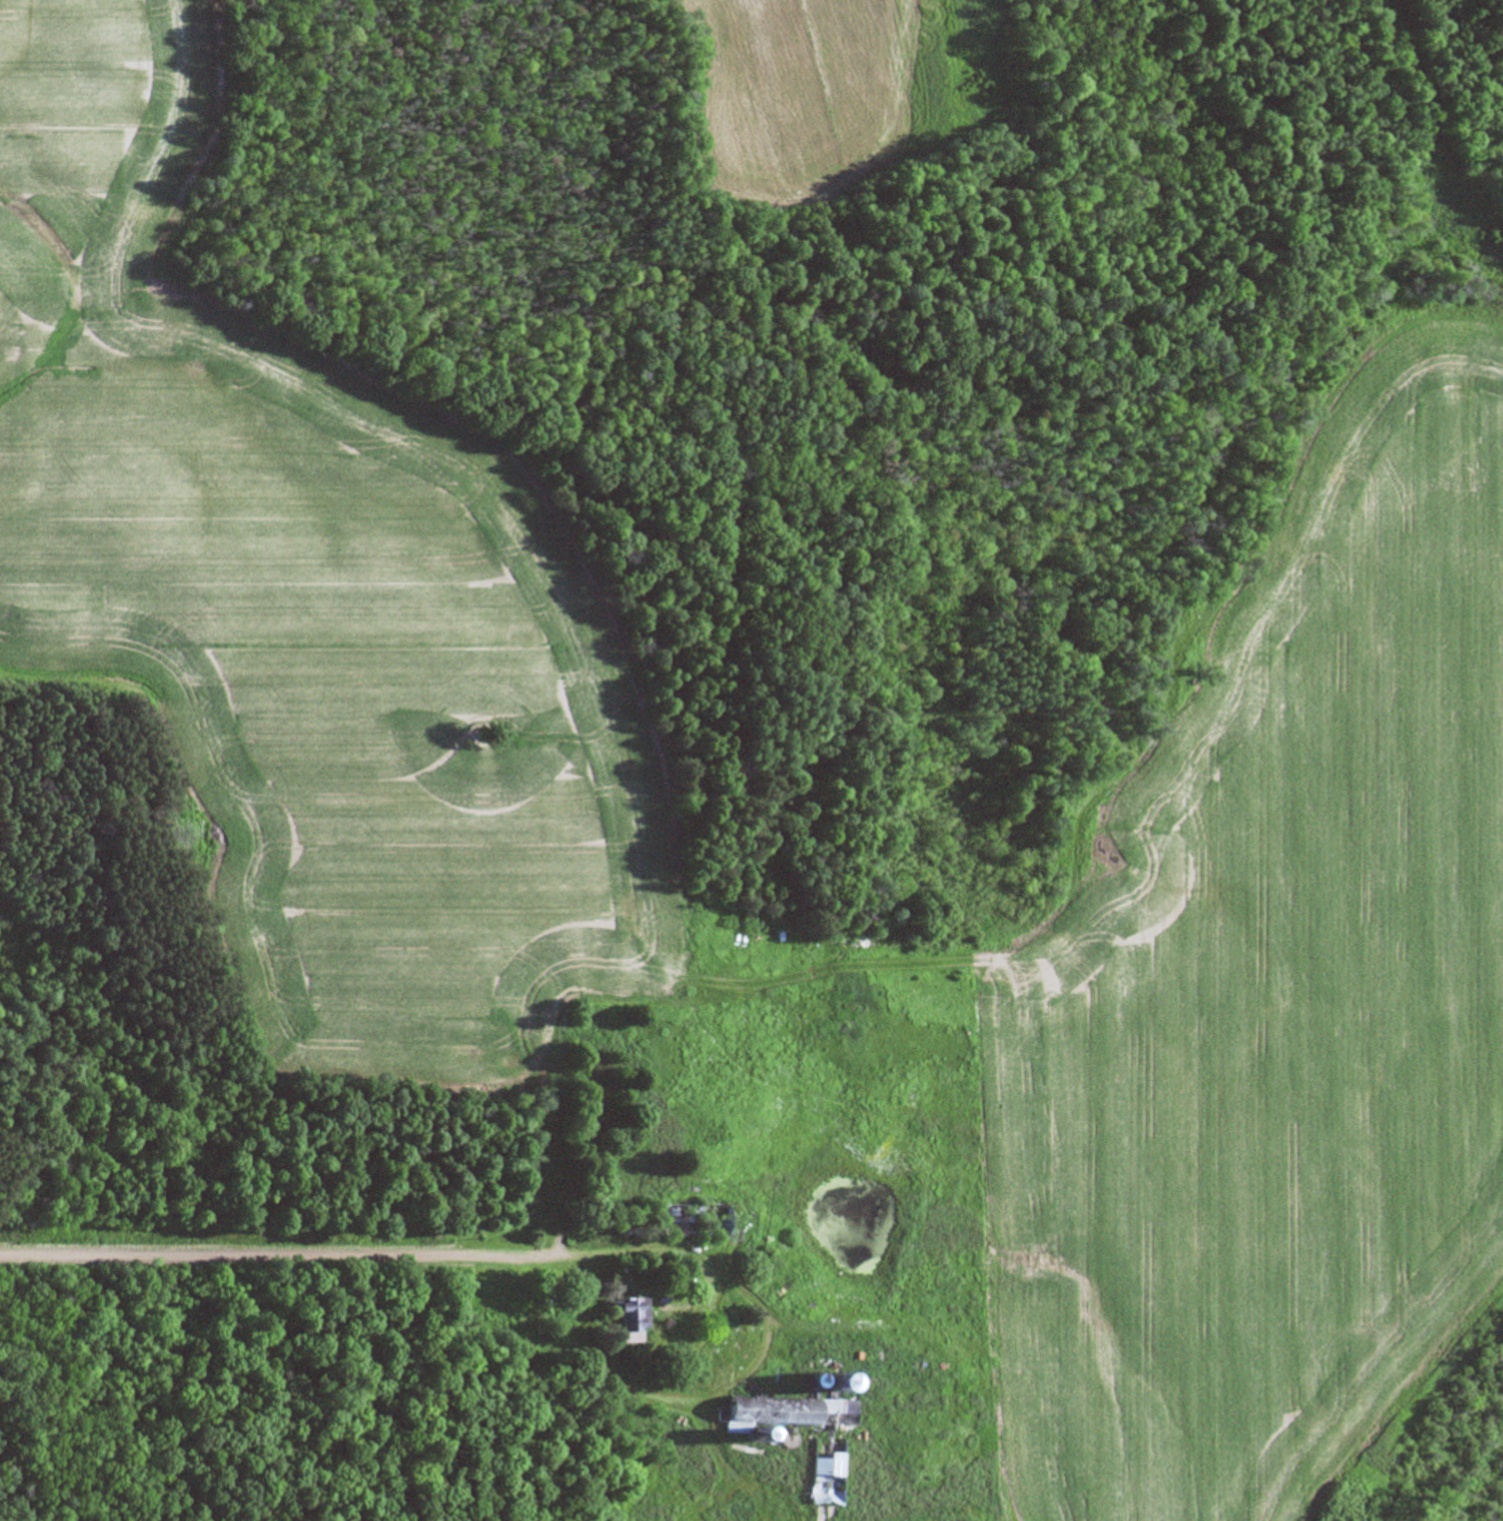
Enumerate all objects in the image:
building: (666, 1222)
road: (311, 1318)
building: (625, 1321)
building: (781, 1417)
building: (823, 1481)

